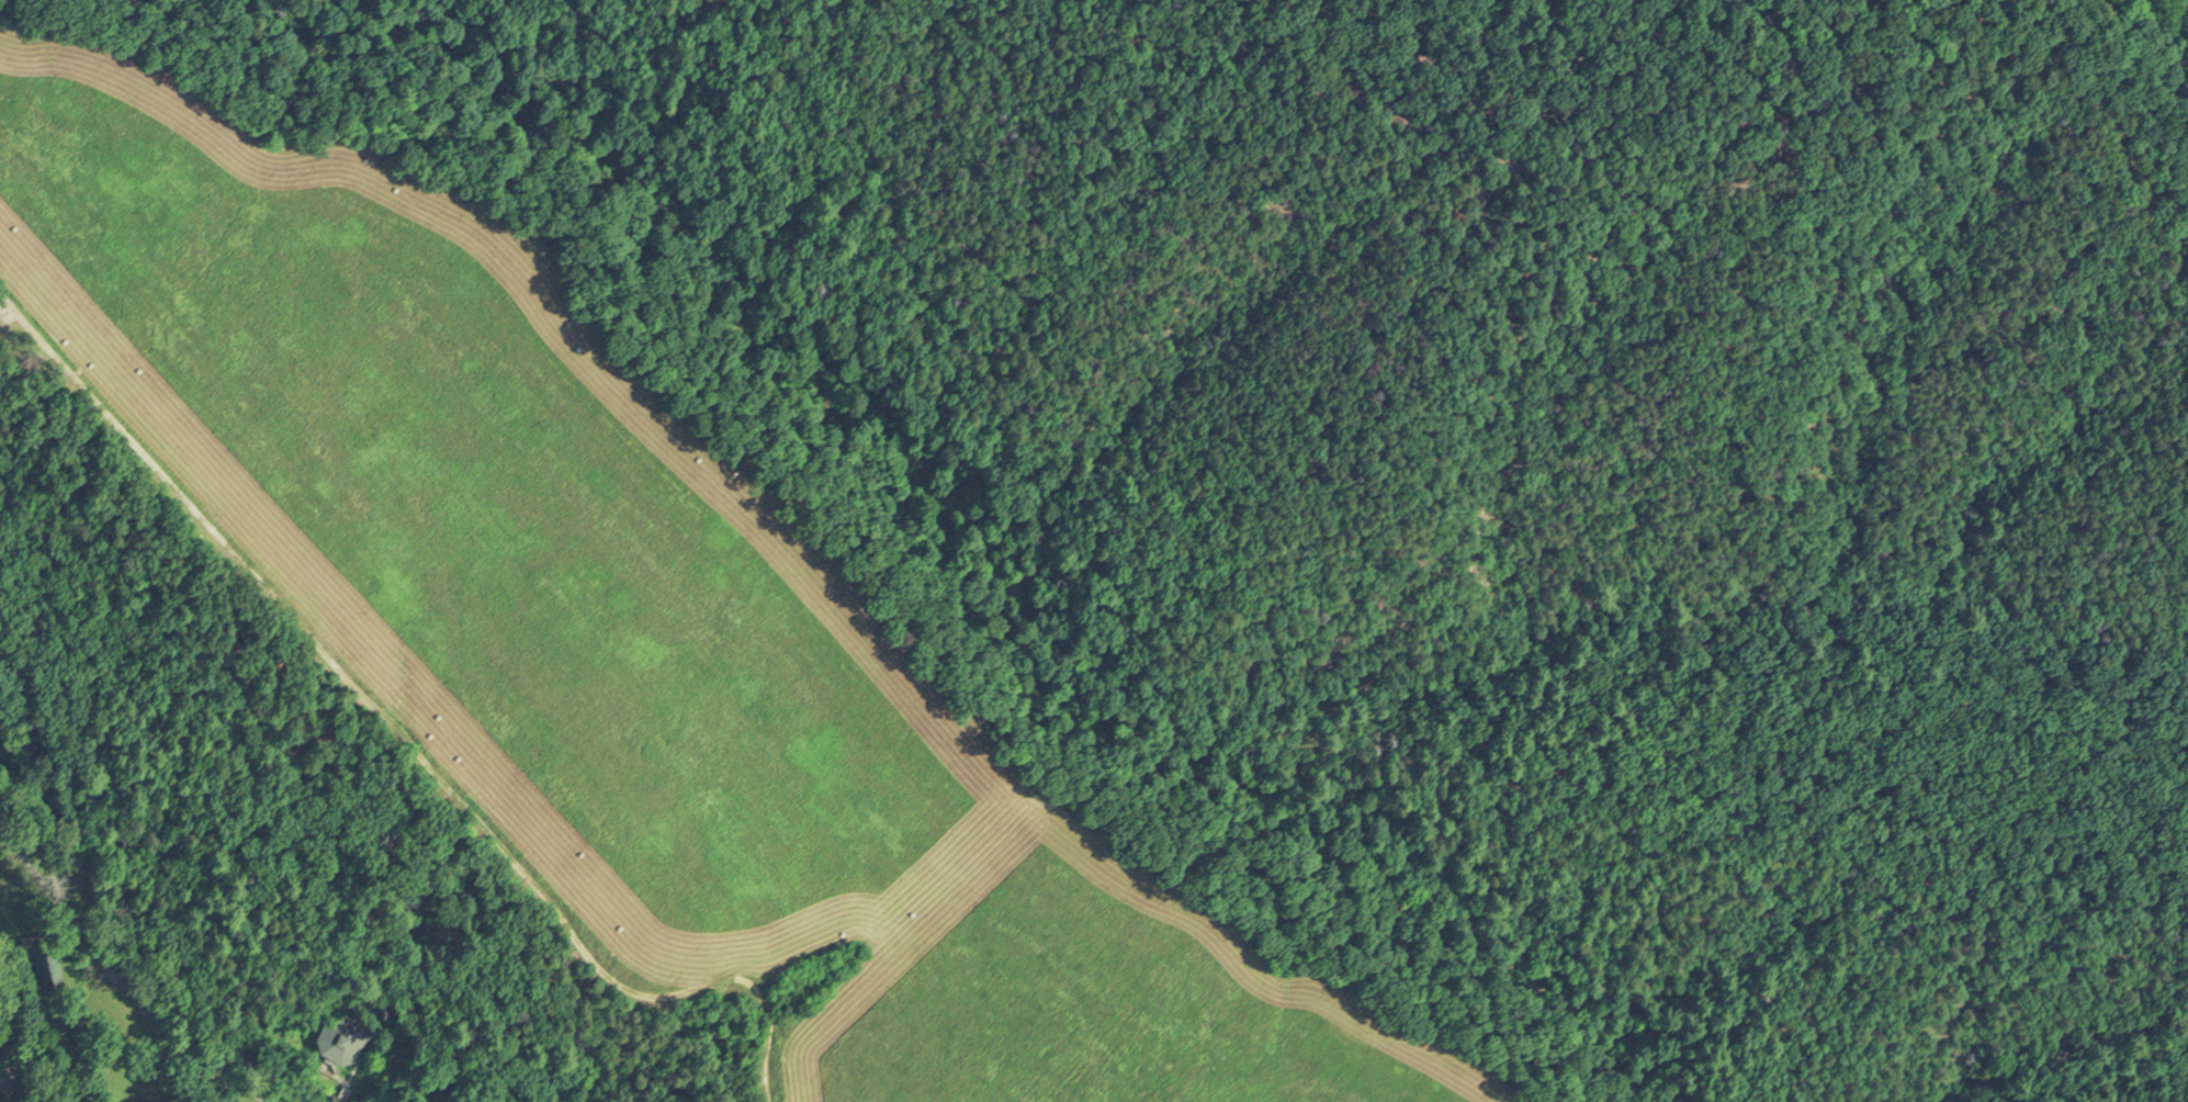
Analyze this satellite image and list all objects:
road: (534, 53)
road: (741, 350)
park: (244, 824)
road: (127, 980)
building: (338, 1036)
road: (339, 1093)

